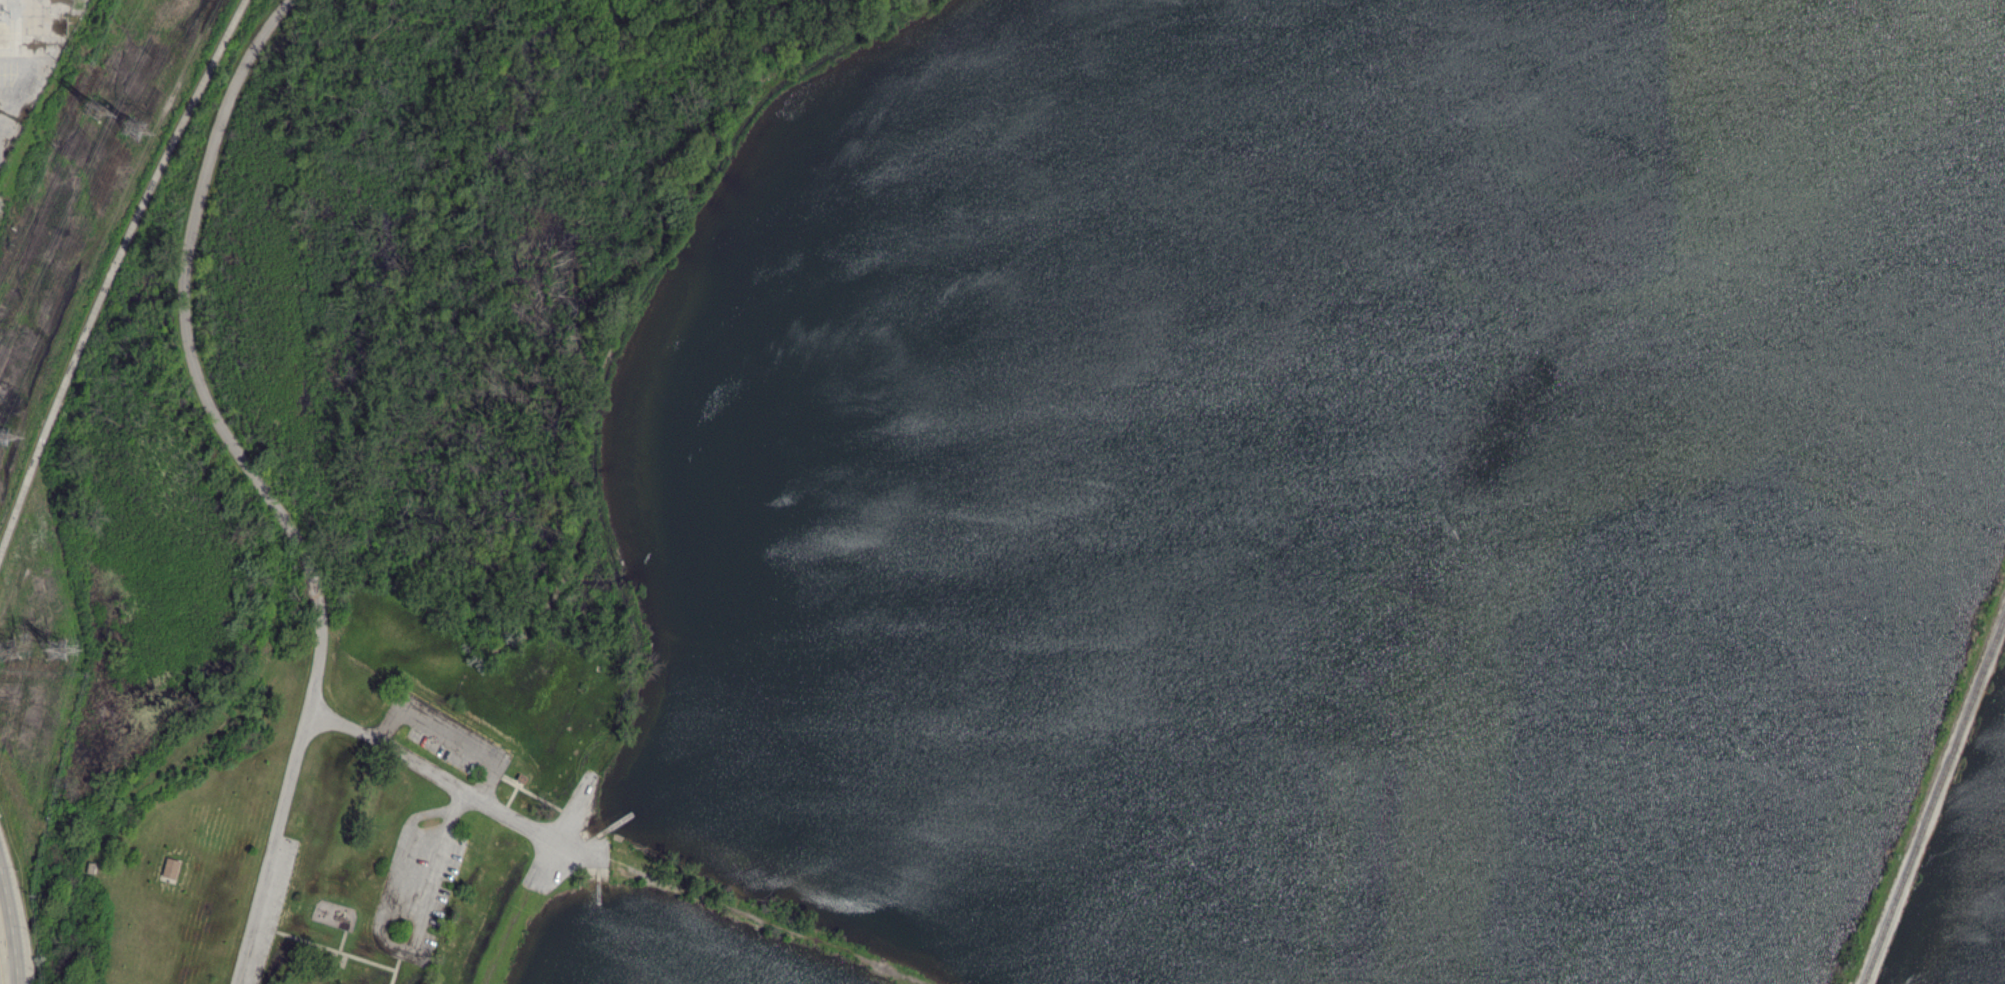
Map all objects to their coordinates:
power tower: (94, 111)
power tower: (134, 127)
road: (114, 273)
road: (259, 483)
park: (1029, 500)
power tower: (11, 651)
power tower: (59, 654)
road: (446, 736)
parking lot: (445, 740)
road: (454, 782)
road: (517, 784)
road: (539, 797)
railway: (1934, 799)
road: (595, 828)
building: (90, 867)
building: (172, 867)
road: (598, 878)
parking lot: (420, 880)
road: (762, 918)
road: (342, 939)
road: (331, 947)
road: (398, 951)
road: (2, 960)
road: (396, 963)

